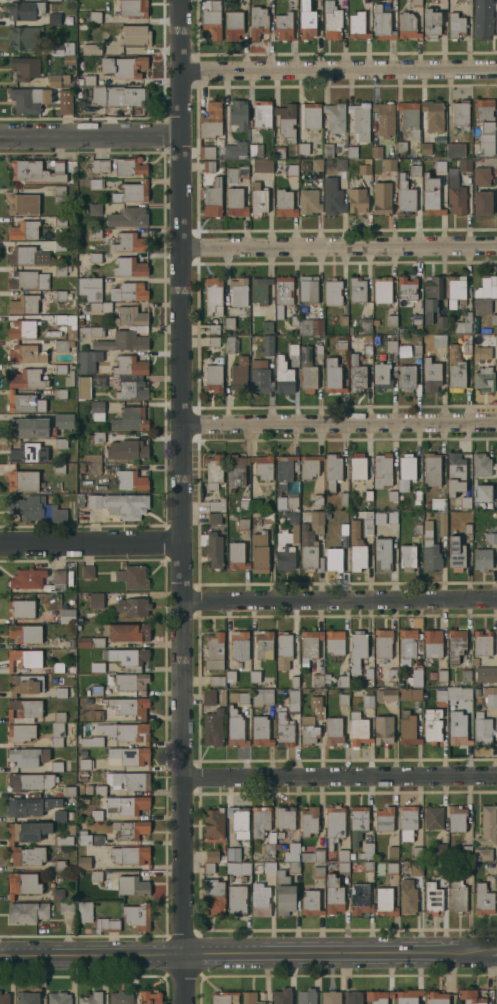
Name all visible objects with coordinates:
building: (464, 1)
building: (416, 3)
building: (133, 8)
building: (25, 10)
building: (94, 17)
building: (54, 18)
building: (212, 18)
building: (483, 19)
building: (307, 21)
building: (332, 21)
building: (258, 22)
building: (431, 23)
building: (382, 24)
building: (232, 25)
building: (283, 26)
building: (357, 26)
building: (407, 26)
building: (456, 26)
building: (54, 27)
building: (135, 35)
building: (25, 37)
building: (89, 47)
building: (57, 49)
building: (124, 67)
building: (25, 68)
road: (339, 69)
building: (57, 79)
building: (73, 80)
building: (89, 80)
building: (79, 81)
building: (119, 95)
building: (27, 100)
building: (65, 108)
building: (238, 114)
building: (262, 114)
building: (311, 115)
building: (461, 115)
building: (434, 116)
building: (336, 117)
building: (410, 117)
building: (385, 118)
building: (287, 120)
building: (211, 121)
building: (361, 121)
building: (486, 125)
road: (91, 135)
building: (303, 148)
building: (344, 148)
building: (221, 149)
building: (336, 149)
building: (401, 149)
building: (427, 149)
building: (236, 150)
building: (256, 150)
building: (455, 150)
building: (328, 151)
building: (377, 151)
building: (207, 152)
building: (279, 152)
building: (352, 152)
building: (317, 164)
building: (341, 164)
building: (389, 164)
building: (56, 165)
building: (262, 165)
building: (464, 165)
building: (120, 166)
building: (209, 166)
building: (304, 166)
building: (440, 166)
building: (365, 167)
building: (292, 170)
building: (415, 171)
building: (33, 172)
building: (236, 174)
building: (482, 176)
building: (96, 184)
building: (133, 192)
building: (455, 194)
building: (59, 195)
building: (431, 196)
building: (332, 197)
building: (405, 197)
building: (382, 198)
building: (213, 199)
building: (258, 199)
building: (357, 200)
building: (309, 202)
building: (236, 203)
building: (284, 203)
building: (23, 204)
building: (484, 204)
building: (95, 209)
building: (128, 218)
building: (60, 221)
building: (23, 230)
building: (95, 234)
building: (128, 242)
building: (59, 245)
road: (340, 247)
building: (28, 255)
building: (95, 258)
building: (81, 259)
building: (129, 267)
building: (61, 270)
building: (23, 279)
building: (90, 288)
building: (407, 288)
building: (309, 289)
building: (357, 289)
building: (382, 289)
building: (455, 290)
building: (258, 291)
building: (129, 292)
building: (239, 292)
building: (333, 292)
building: (485, 293)
building: (283, 294)
building: (60, 295)
building: (213, 296)
building: (431, 296)
building: (24, 304)
building: (100, 307)
building: (300, 316)
building: (131, 317)
building: (60, 320)
building: (392, 320)
building: (494, 320)
building: (295, 321)
building: (343, 321)
building: (416, 321)
building: (441, 322)
building: (230, 323)
building: (365, 323)
building: (464, 324)
building: (311, 326)
building: (267, 327)
building: (22, 329)
building: (213, 329)
building: (351, 330)
building: (71, 332)
building: (92, 332)
building: (367, 337)
building: (125, 340)
building: (439, 341)
building: (213, 342)
building: (231, 345)
building: (341, 345)
building: (467, 345)
building: (61, 346)
building: (268, 346)
building: (391, 346)
building: (368, 348)
building: (293, 349)
building: (417, 349)
building: (319, 351)
building: (482, 353)
building: (26, 354)
building: (87, 361)
building: (259, 364)
building: (130, 366)
building: (60, 369)
building: (455, 369)
building: (356, 374)
building: (431, 375)
building: (239, 376)
building: (283, 376)
building: (332, 376)
building: (381, 377)
building: (214, 378)
building: (308, 378)
building: (407, 378)
building: (27, 379)
building: (69, 379)
building: (484, 379)
building: (260, 381)
building: (88, 385)
building: (132, 387)
building: (61, 394)
building: (24, 403)
building: (97, 410)
building: (130, 419)
road: (339, 424)
building: (38, 426)
building: (98, 437)
building: (61, 443)
building: (127, 449)
building: (25, 453)
building: (71, 458)
building: (93, 458)
building: (481, 465)
building: (309, 466)
building: (358, 466)
building: (263, 467)
building: (95, 468)
building: (59, 469)
building: (213, 470)
building: (382, 470)
building: (431, 470)
building: (236, 471)
building: (285, 471)
building: (406, 471)
building: (332, 472)
building: (456, 474)
building: (131, 480)
building: (22, 481)
building: (483, 493)
building: (368, 495)
building: (417, 495)
building: (392, 496)
building: (343, 499)
building: (80, 500)
building: (317, 500)
building: (95, 502)
road: (183, 502)
building: (291, 502)
building: (466, 502)
building: (436, 504)
building: (126, 505)
building: (217, 505)
building: (244, 505)
building: (256, 505)
building: (36, 509)
building: (351, 515)
building: (269, 517)
building: (292, 517)
building: (392, 517)
building: (215, 518)
building: (317, 521)
building: (368, 523)
building: (243, 524)
building: (442, 524)
building: (418, 528)
building: (344, 529)
building: (468, 529)
building: (284, 536)
building: (491, 538)
road: (92, 543)
building: (357, 548)
building: (430, 549)
building: (214, 551)
building: (310, 551)
building: (260, 552)
building: (457, 554)
building: (382, 555)
building: (236, 556)
building: (408, 557)
building: (285, 558)
building: (334, 559)
building: (482, 560)
building: (88, 572)
building: (133, 577)
building: (28, 579)
building: (59, 580)
building: (96, 600)
road: (340, 602)
building: (134, 606)
building: (21, 608)
building: (67, 616)
building: (77, 627)
building: (126, 632)
building: (25, 633)
building: (83, 642)
building: (97, 642)
building: (335, 642)
building: (72, 643)
building: (382, 643)
building: (482, 643)
building: (456, 644)
building: (239, 645)
building: (264, 645)
building: (310, 645)
building: (432, 645)
building: (409, 646)
building: (214, 651)
building: (284, 651)
building: (358, 652)
building: (129, 658)
building: (25, 659)
building: (58, 667)
building: (97, 667)
building: (492, 673)
building: (392, 674)
building: (466, 674)
building: (442, 675)
building: (231, 676)
building: (255, 676)
building: (368, 678)
building: (417, 678)
building: (318, 680)
building: (327, 680)
building: (217, 681)
building: (294, 681)
building: (342, 681)
building: (132, 682)
building: (25, 684)
building: (394, 685)
building: (96, 691)
building: (61, 692)
building: (410, 693)
building: (440, 694)
building: (386, 695)
building: (461, 695)
building: (489, 696)
building: (209, 697)
building: (239, 697)
building: (262, 697)
building: (343, 699)
building: (293, 701)
building: (367, 701)
building: (129, 706)
building: (24, 710)
building: (108, 712)
building: (320, 712)
building: (437, 713)
building: (59, 716)
building: (97, 716)
building: (213, 727)
building: (431, 727)
building: (235, 728)
building: (57, 729)
building: (103, 729)
building: (383, 729)
building: (408, 729)
building: (458, 729)
building: (482, 729)
building: (284, 730)
building: (358, 730)
building: (308, 731)
building: (132, 732)
building: (261, 732)
building: (334, 732)
building: (20, 733)
building: (57, 741)
building: (90, 741)
building: (113, 755)
building: (135, 756)
building: (28, 757)
building: (84, 764)
building: (56, 766)
building: (83, 776)
road: (339, 777)
building: (129, 780)
building: (31, 781)
building: (89, 789)
building: (100, 790)
building: (69, 791)
building: (133, 805)
building: (31, 806)
building: (112, 807)
building: (59, 815)
building: (433, 817)
building: (286, 818)
building: (457, 818)
building: (384, 819)
building: (240, 821)
building: (260, 821)
building: (309, 821)
building: (214, 823)
building: (408, 823)
building: (358, 824)
building: (115, 825)
building: (334, 825)
building: (487, 826)
building: (69, 829)
building: (133, 830)
building: (27, 832)
building: (89, 839)
building: (63, 840)
building: (269, 846)
building: (294, 848)
building: (302, 848)
building: (440, 850)
building: (366, 851)
building: (393, 852)
building: (467, 852)
building: (417, 853)
building: (130, 854)
building: (233, 854)
building: (482, 854)
building: (313, 855)
building: (342, 855)
building: (26, 856)
building: (214, 856)
building: (293, 858)
building: (84, 862)
building: (59, 865)
building: (368, 866)
building: (269, 867)
building: (294, 867)
building: (343, 867)
building: (208, 868)
building: (245, 868)
building: (392, 868)
building: (466, 868)
building: (416, 869)
building: (443, 871)
building: (318, 872)
building: (96, 876)
building: (282, 878)
building: (22, 884)
building: (132, 886)
building: (58, 894)
building: (333, 895)
building: (213, 896)
building: (458, 896)
building: (407, 897)
building: (285, 899)
building: (360, 899)
building: (433, 899)
building: (261, 900)
building: (483, 900)
building: (237, 901)
building: (385, 902)
building: (311, 903)
building: (66, 907)
building: (27, 912)
building: (84, 912)
building: (137, 916)
building: (104, 926)
road: (248, 954)
building: (282, 996)
building: (408, 996)
building: (225, 997)
building: (307, 997)
building: (331, 997)
building: (378, 997)
building: (470, 997)
building: (4, 998)
building: (27, 998)
building: (59, 998)
building: (91, 998)
building: (121, 998)
building: (150, 998)
building: (250, 998)
building: (354, 998)
building: (437, 998)

